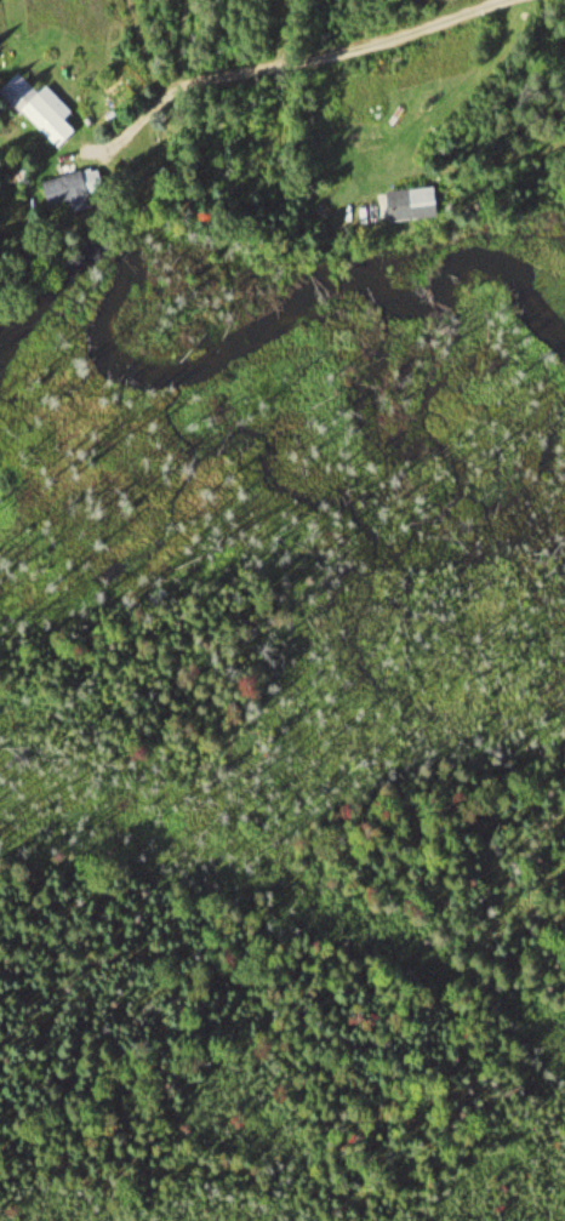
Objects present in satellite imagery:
road: (297, 62)
road: (460, 87)
building: (46, 110)
building: (69, 183)
building: (416, 205)
river: (240, 337)

